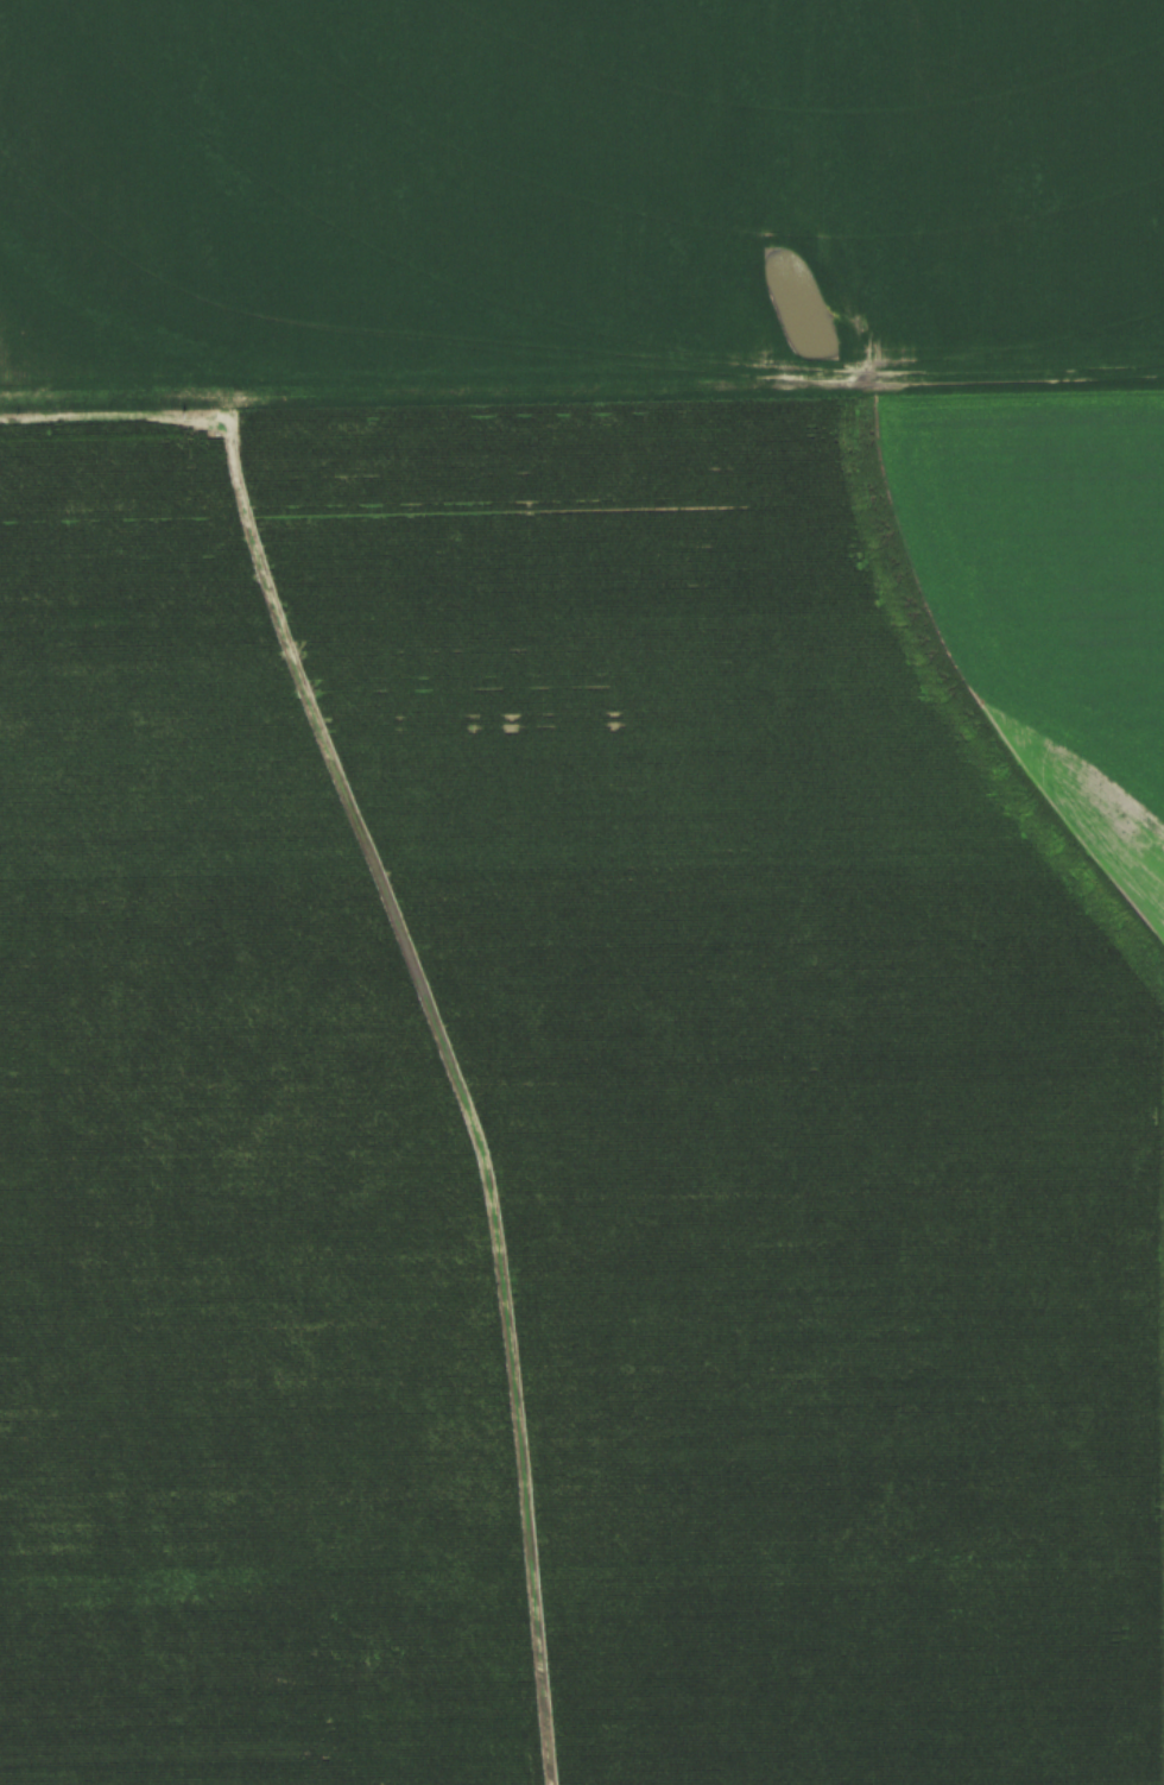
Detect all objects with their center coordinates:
crop: (582, 892)

